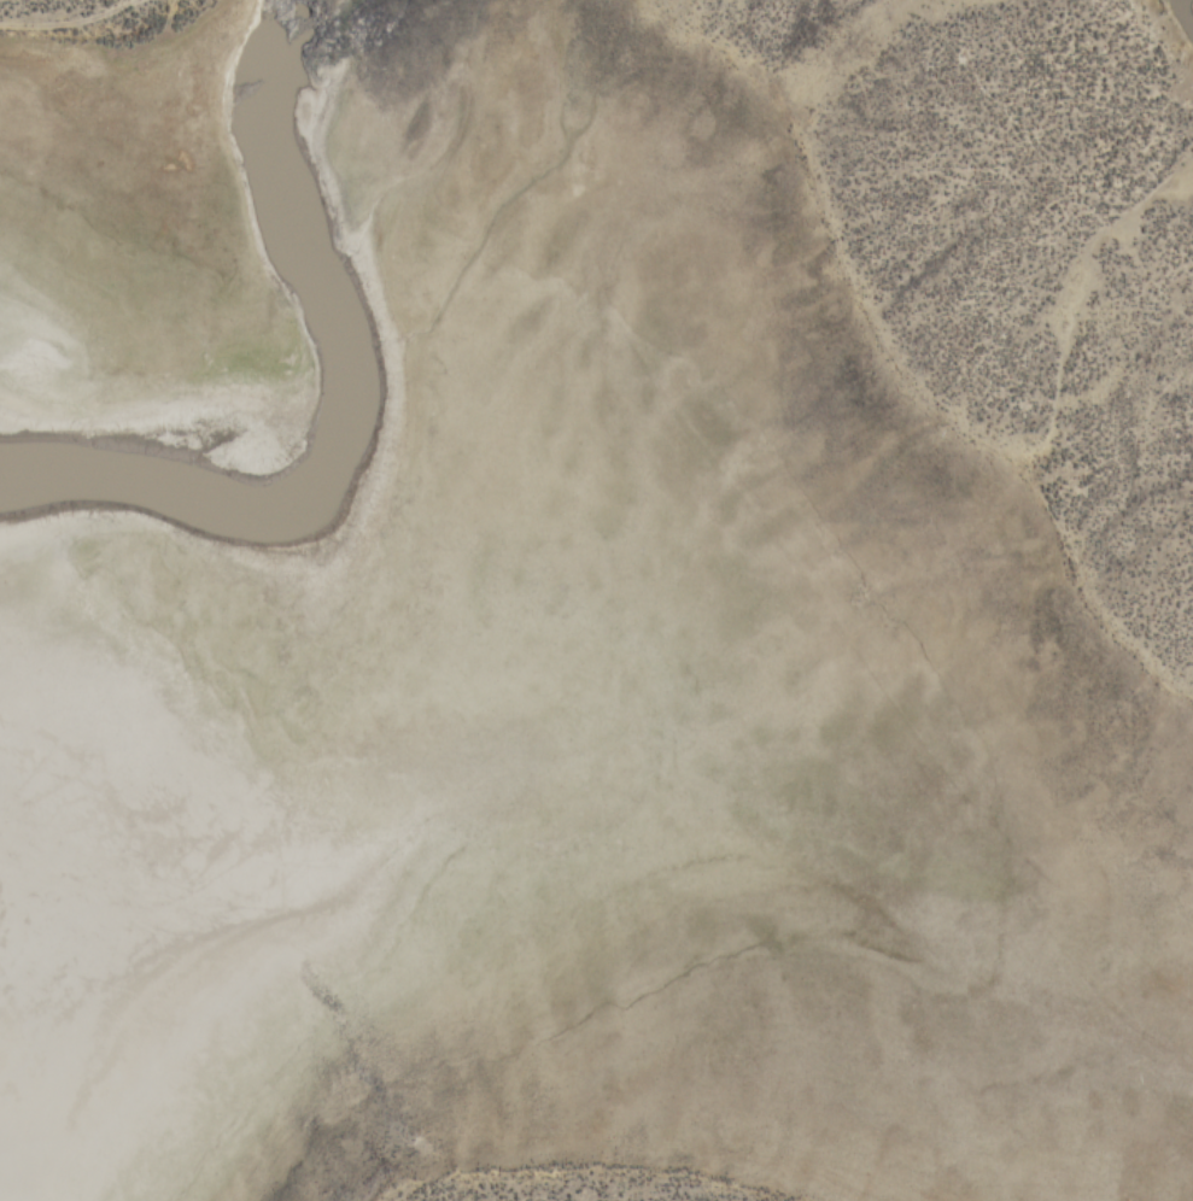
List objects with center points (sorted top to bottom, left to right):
road: (58, 17)
road: (154, 18)

